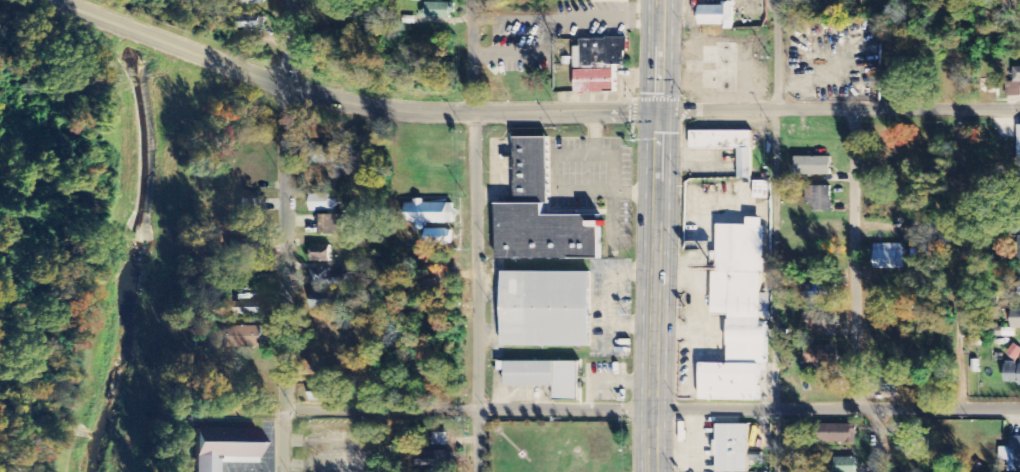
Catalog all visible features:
building: (593, 0)
building: (250, 3)
road: (86, 11)
building: (438, 11)
building: (716, 16)
building: (242, 23)
road: (128, 28)
road: (776, 55)
building: (598, 64)
building: (1014, 84)
road: (302, 85)
building: (989, 87)
road: (838, 109)
traffic signals: (656, 110)
road: (565, 111)
building: (728, 144)
building: (1018, 152)
building: (323, 156)
building: (812, 167)
building: (762, 190)
building: (819, 198)
building: (1019, 203)
building: (322, 204)
building: (248, 210)
building: (542, 213)
building: (428, 214)
building: (330, 225)
road: (296, 236)
road: (476, 236)
road: (653, 236)
building: (438, 238)
building: (1019, 251)
building: (320, 253)
building: (888, 257)
road: (855, 259)
building: (326, 278)
building: (436, 286)
building: (1019, 288)
road: (775, 290)
building: (820, 293)
building: (548, 307)
building: (244, 309)
building: (740, 313)
building: (1015, 319)
building: (819, 326)
building: (242, 337)
building: (821, 358)
building: (547, 375)
building: (1012, 376)
building: (885, 384)
building: (318, 398)
road: (652, 408)
building: (838, 435)
building: (439, 440)
road: (877, 441)
building: (224, 445)
building: (732, 448)
building: (1012, 455)
building: (434, 461)
building: (844, 465)

